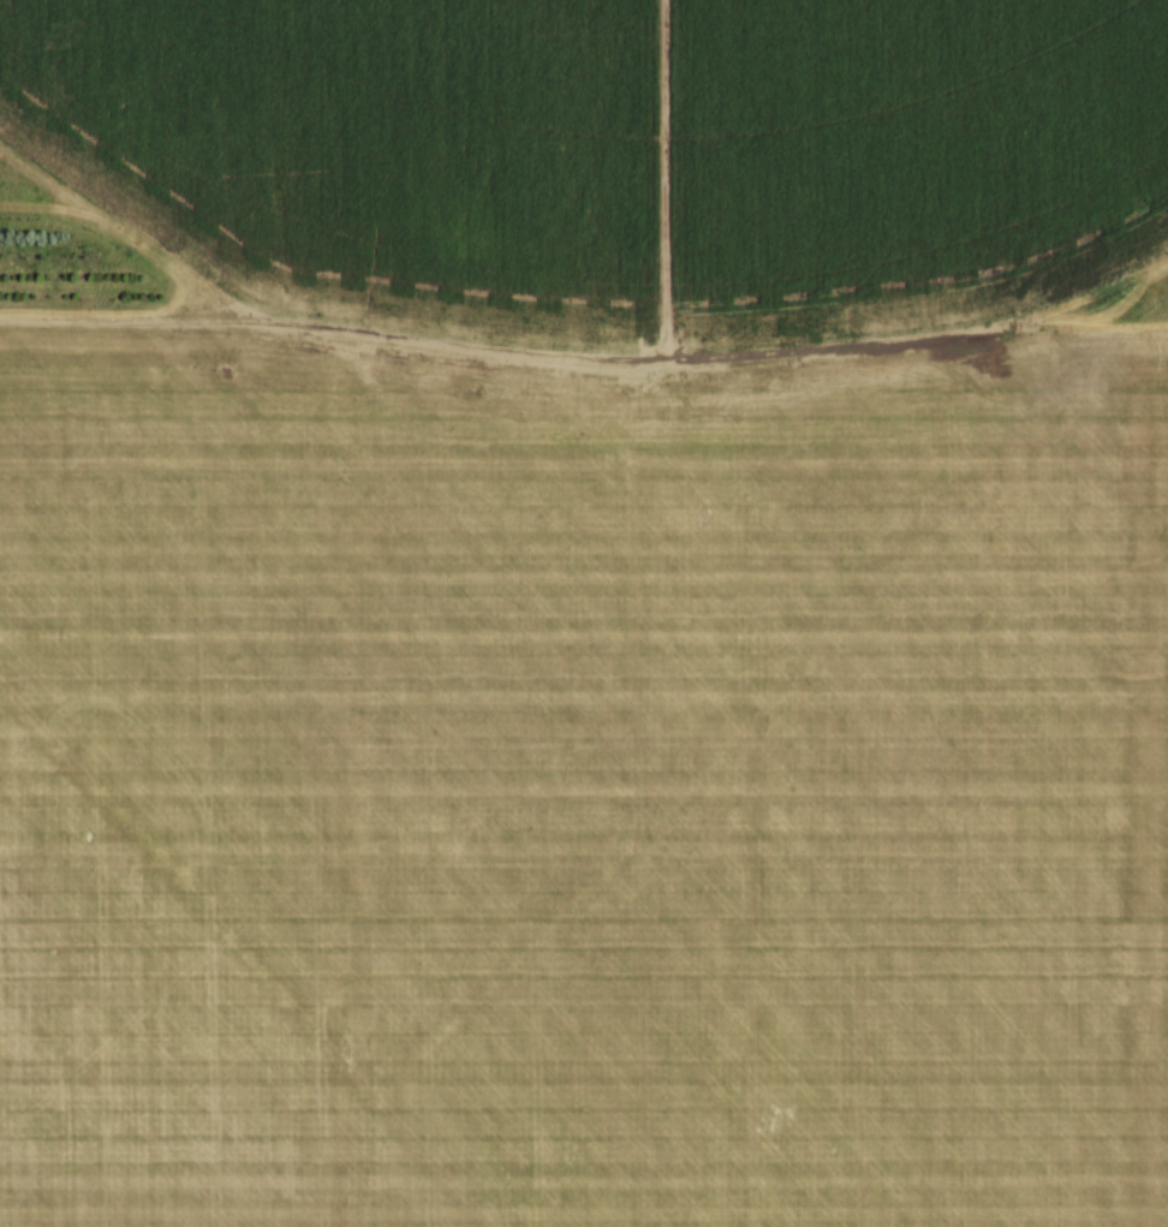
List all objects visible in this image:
crop: (590, 620)

